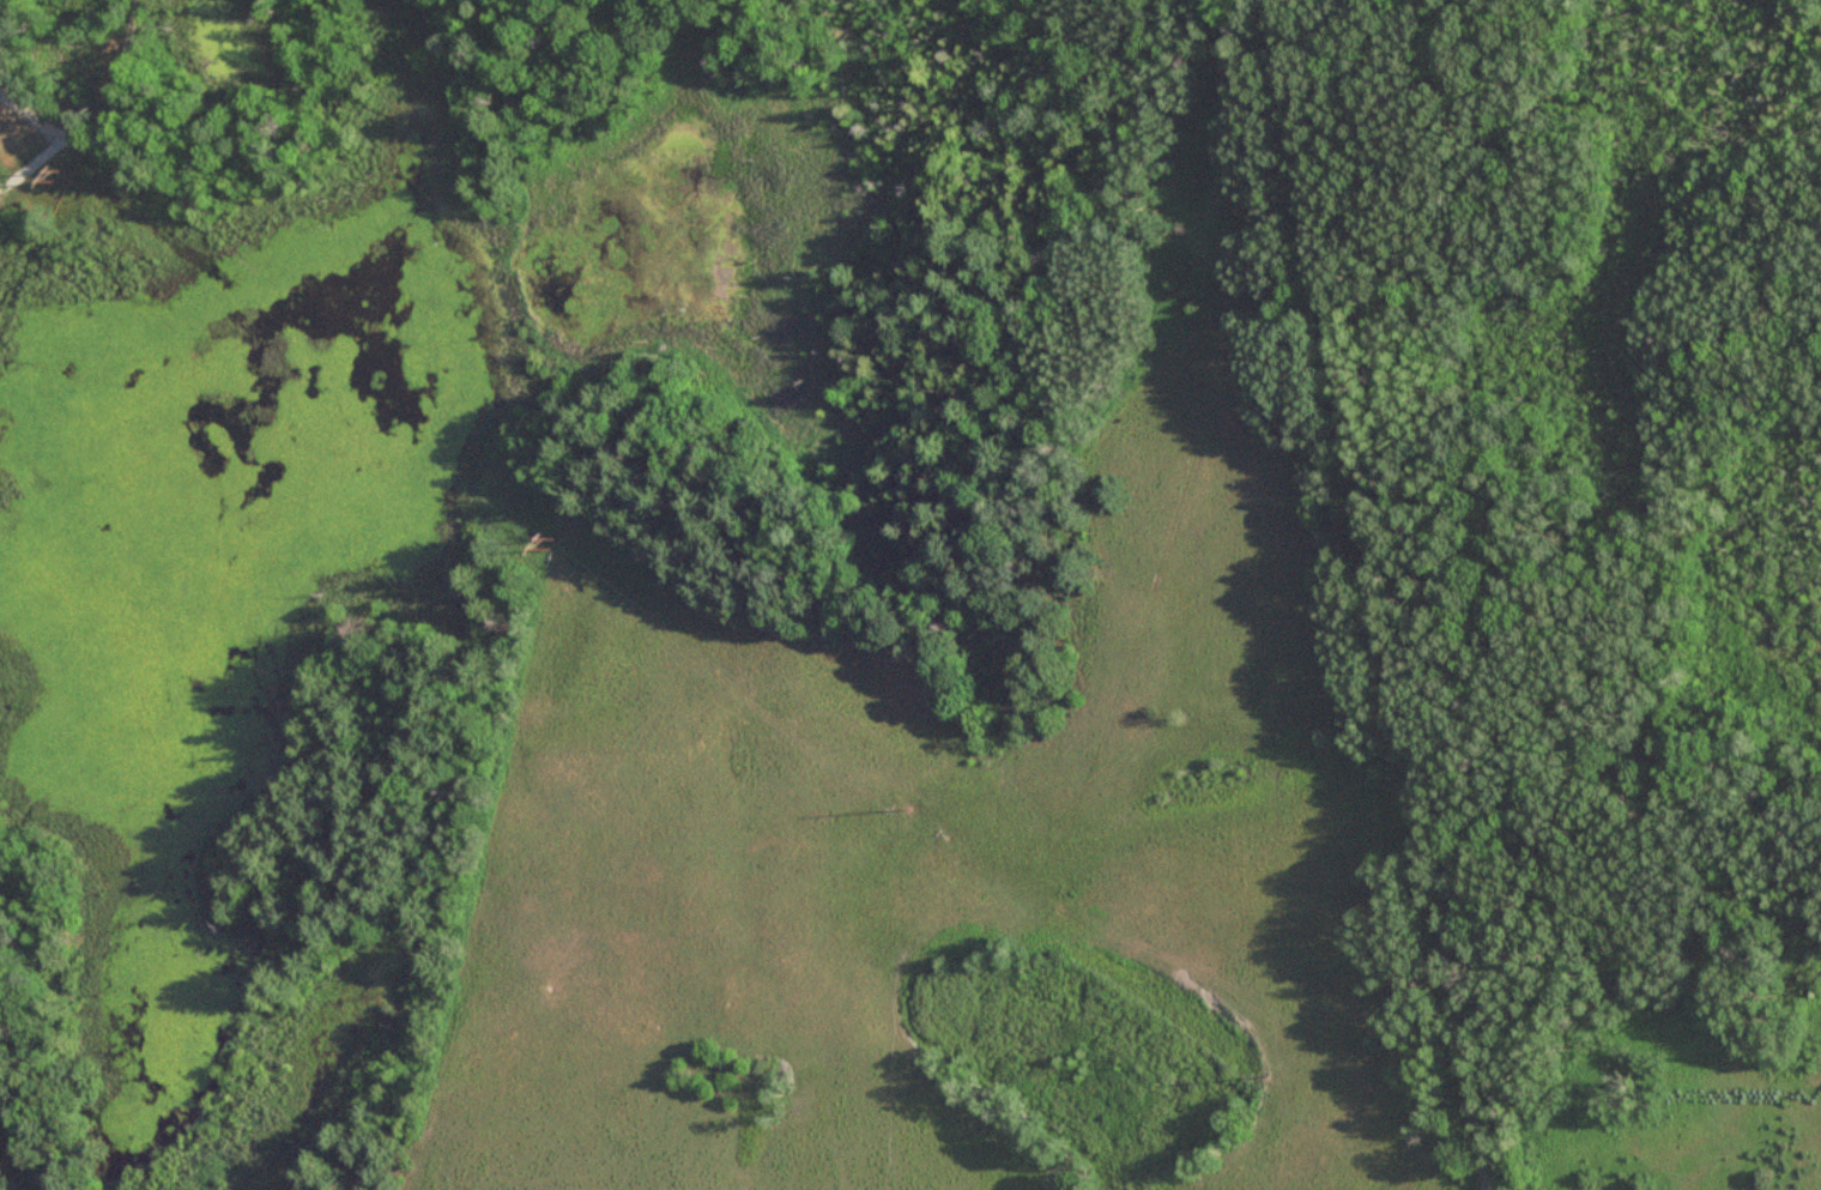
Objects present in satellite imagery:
road: (1378, 594)

